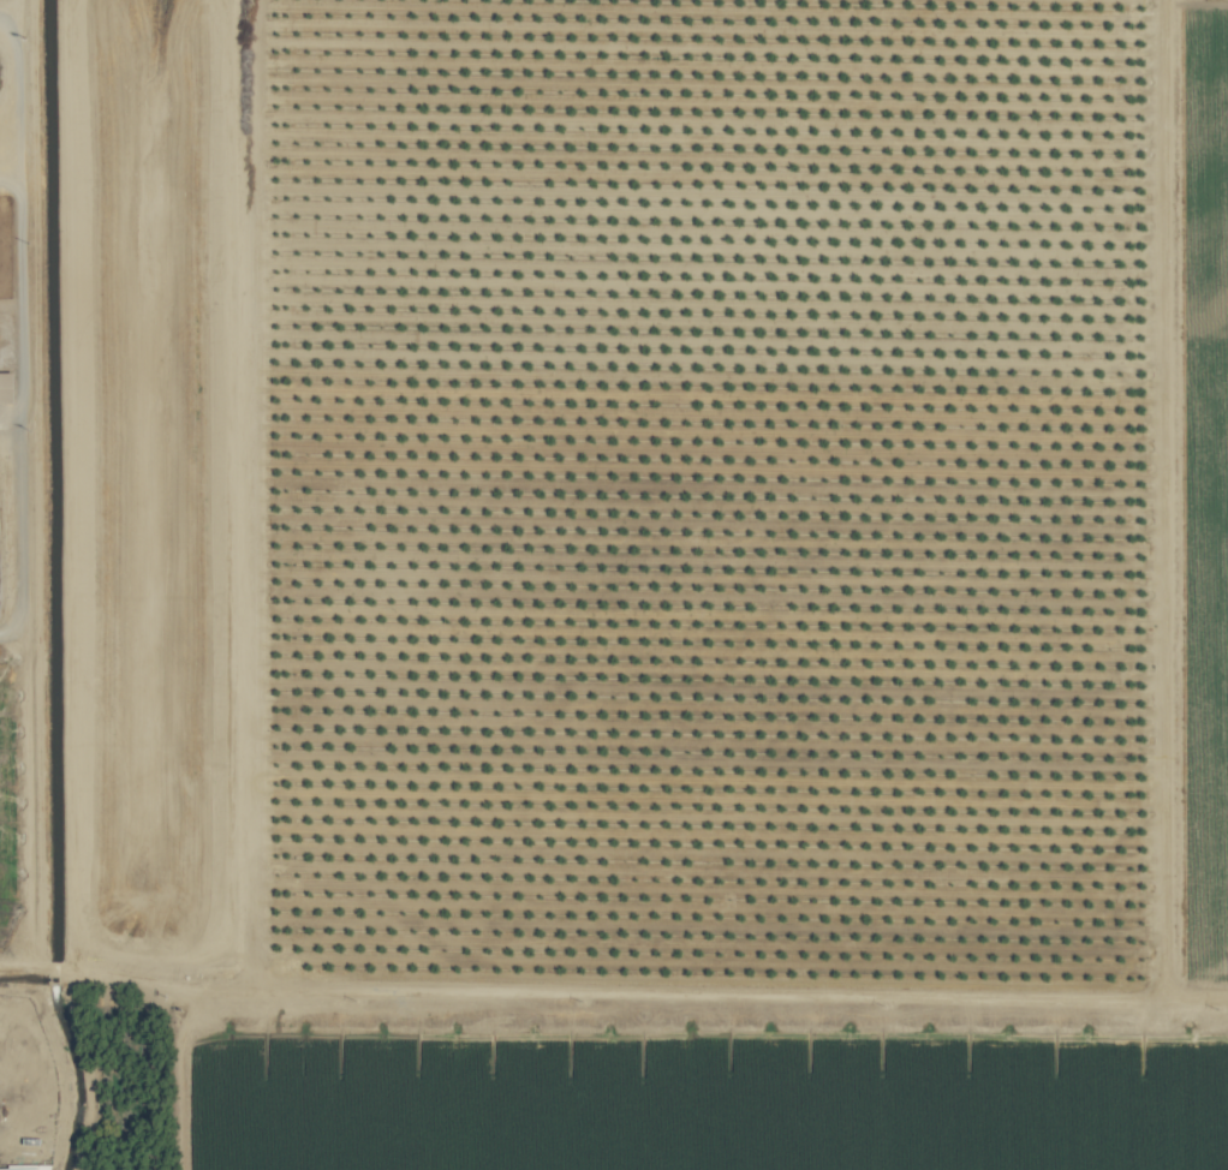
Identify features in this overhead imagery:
road: (24, 324)
crop: (23, 360)
crop: (614, 585)
crop: (31, 810)
building: (25, 1168)

